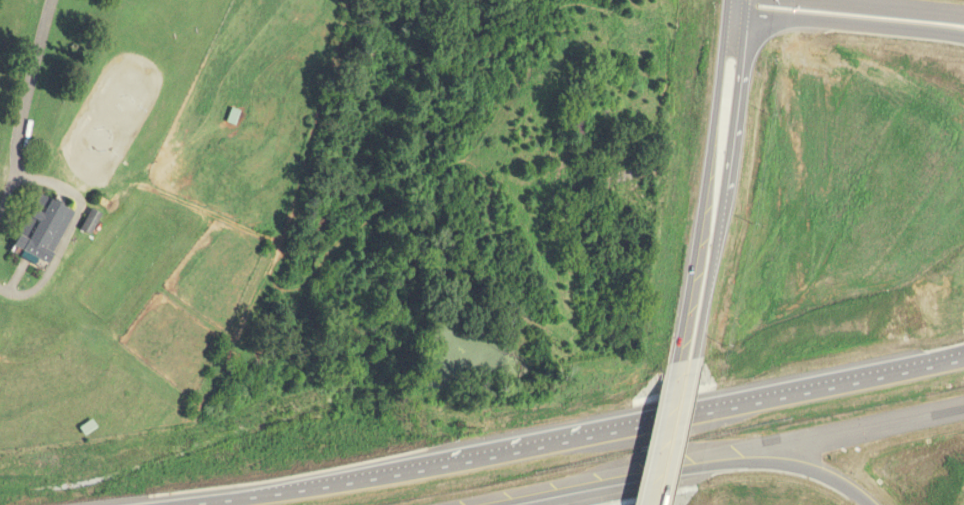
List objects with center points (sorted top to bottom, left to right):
road: (728, 4)
road: (747, 11)
road: (844, 23)
road: (24, 89)
building: (233, 116)
building: (575, 130)
road: (704, 187)
road: (727, 193)
building: (92, 221)
building: (43, 230)
road: (886, 374)
building: (88, 428)
road: (656, 434)
road: (679, 434)
building: (533, 442)
road: (500, 456)
road: (804, 466)
road: (601, 480)

